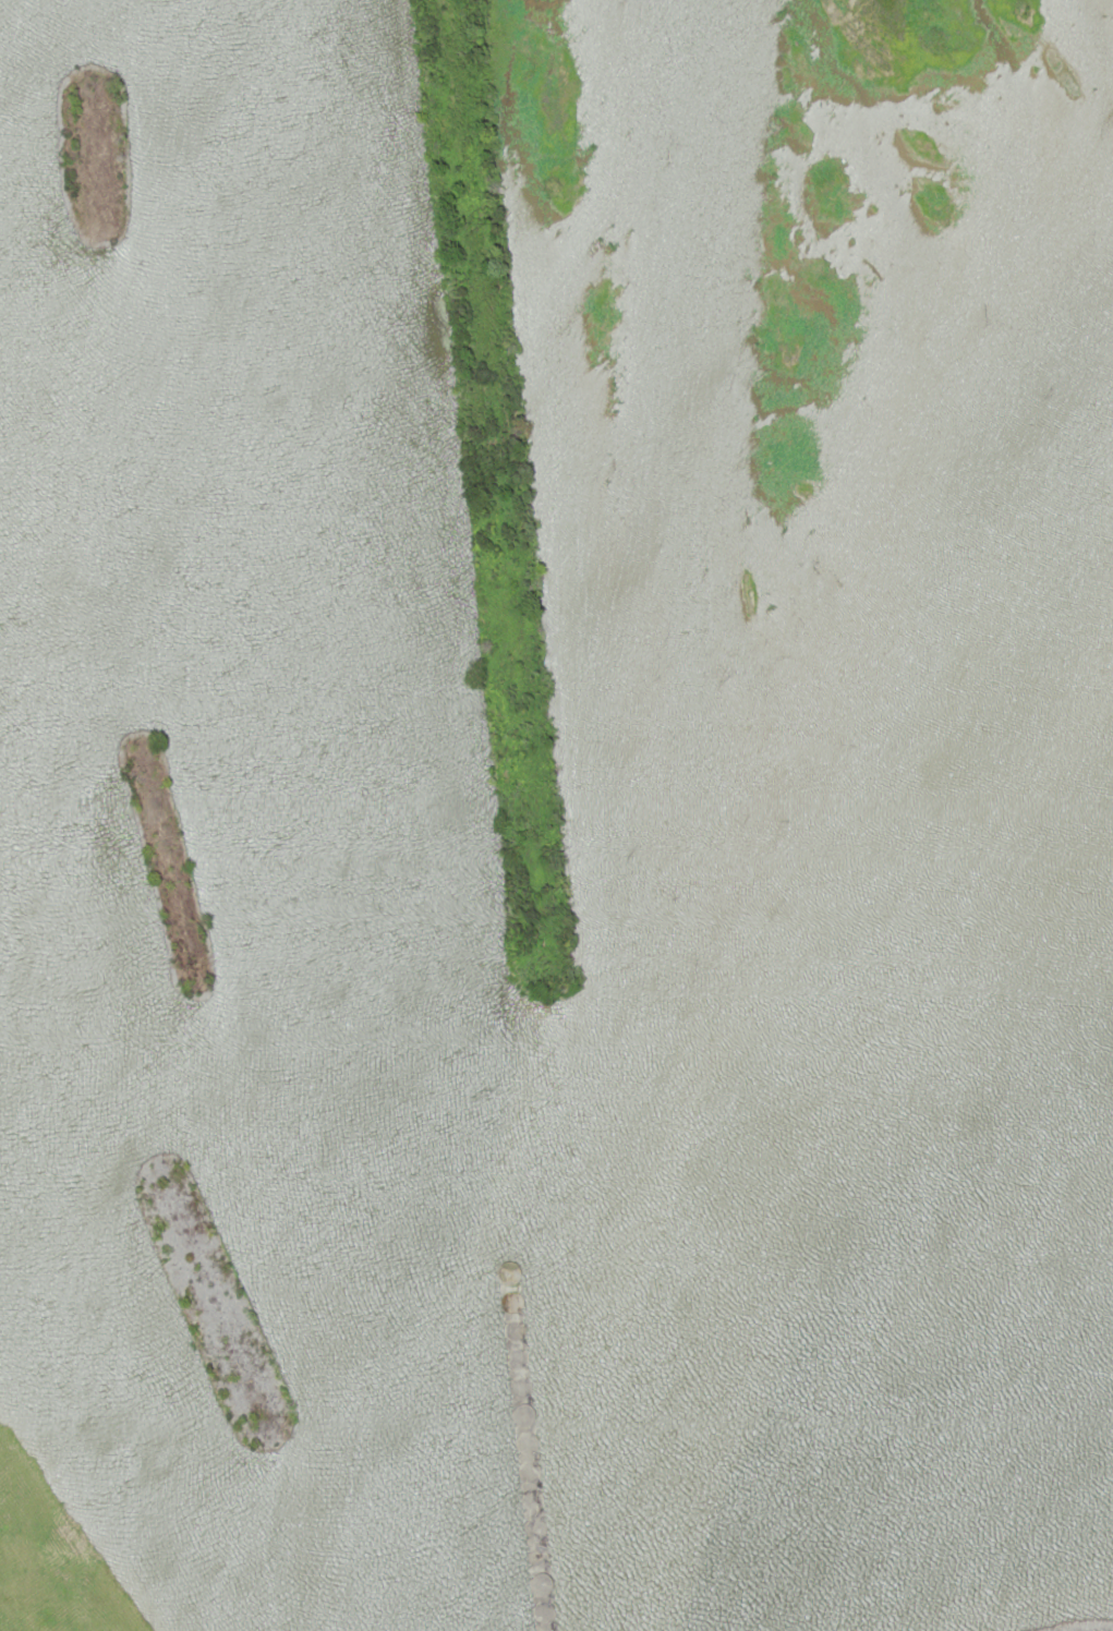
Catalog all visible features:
river: (156, 1427)

